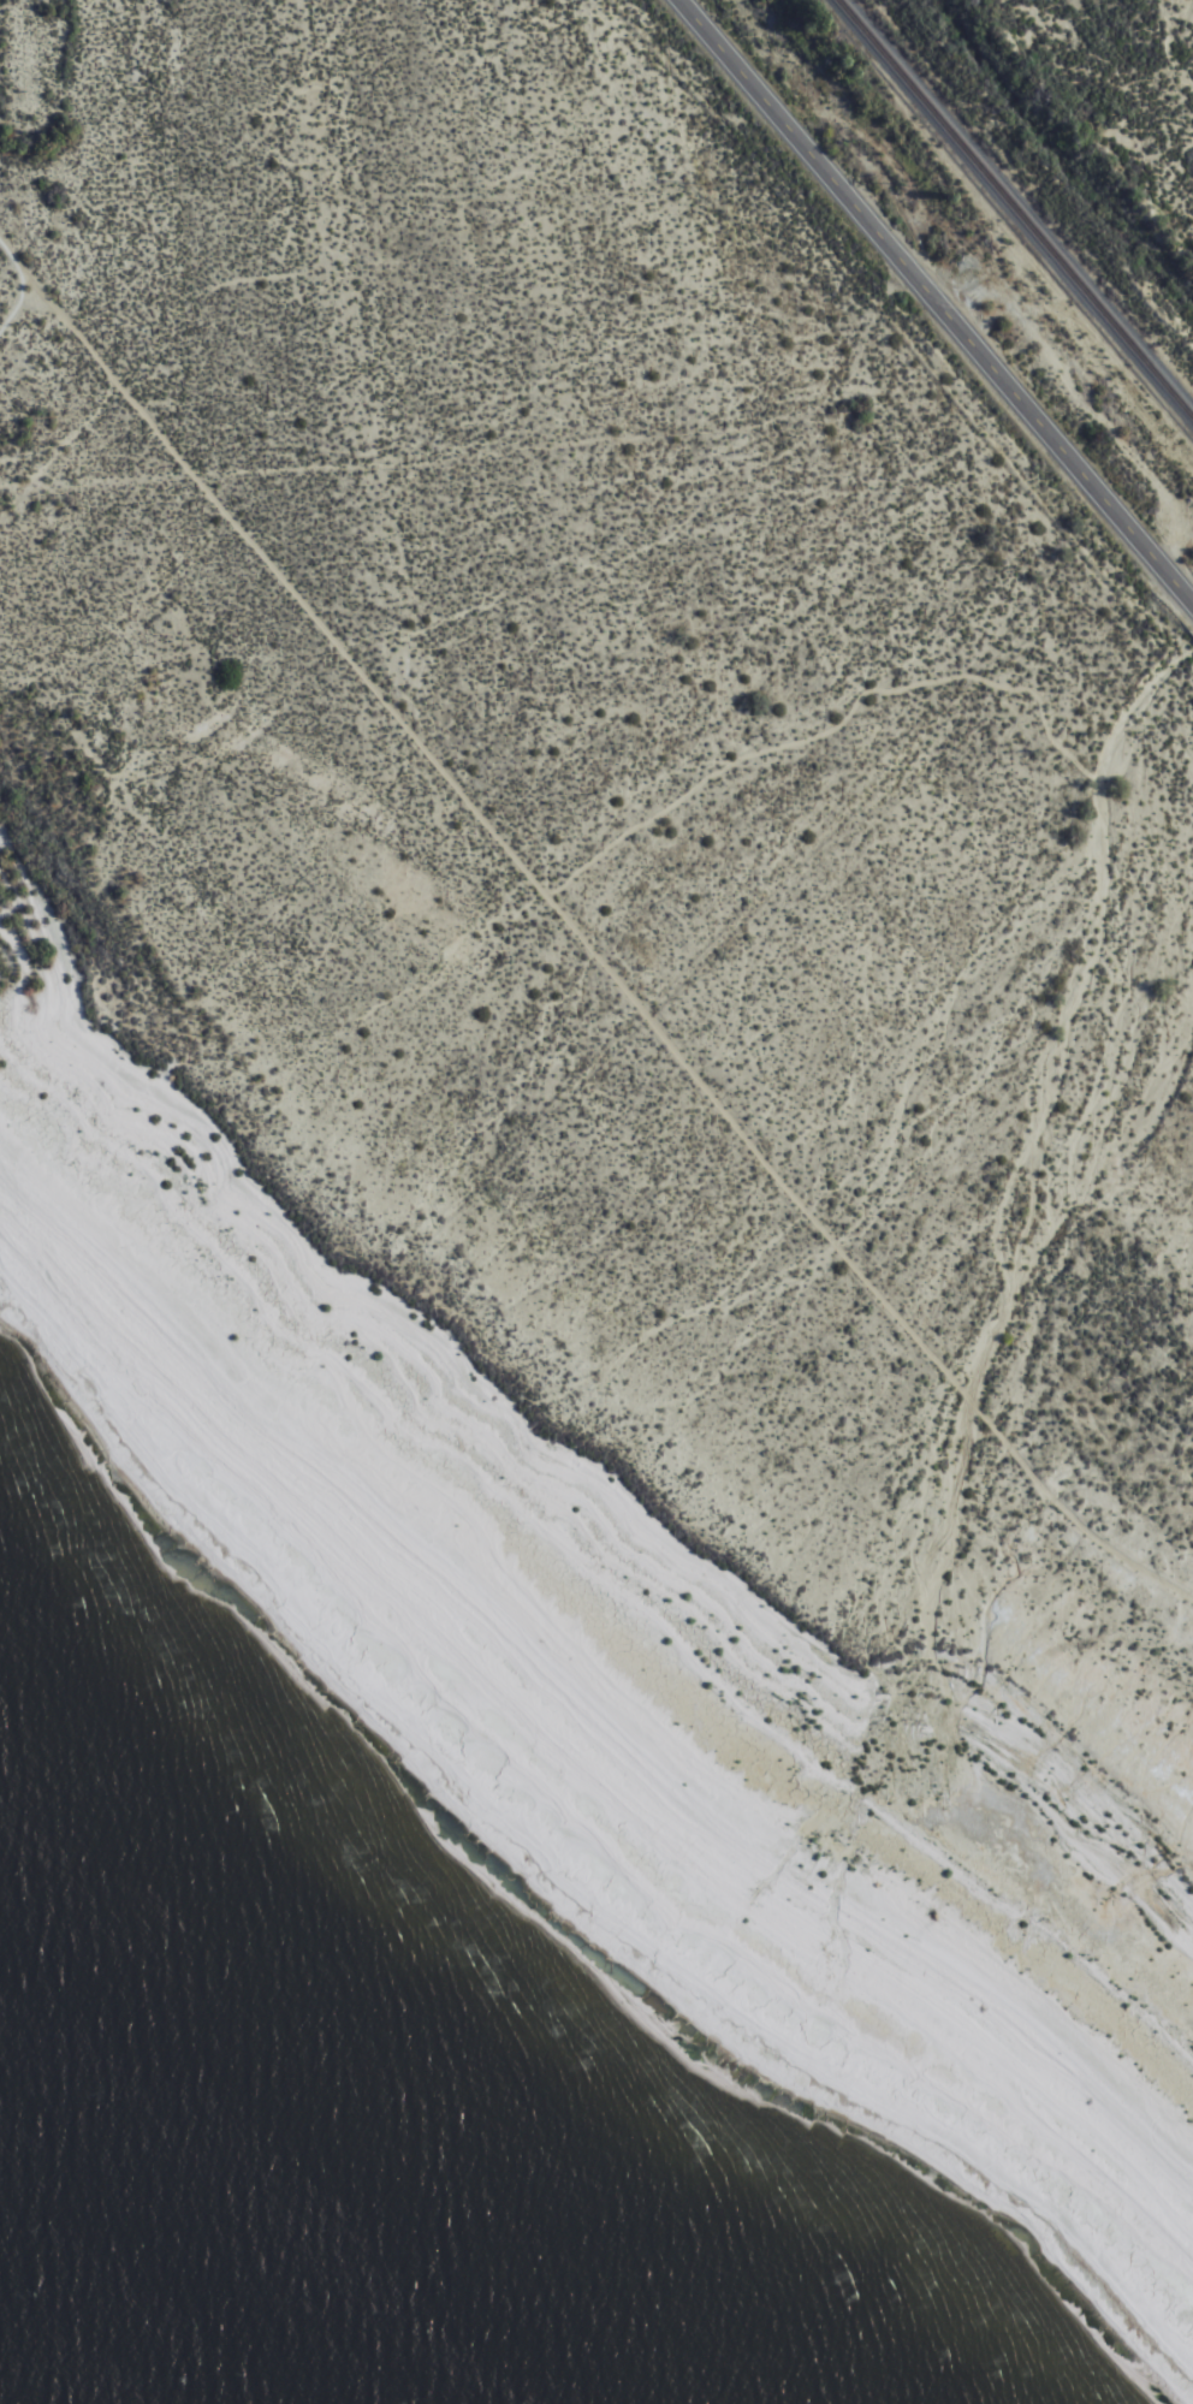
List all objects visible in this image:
railway: (1017, 207)
road: (934, 304)
road: (474, 416)
road: (71, 467)

